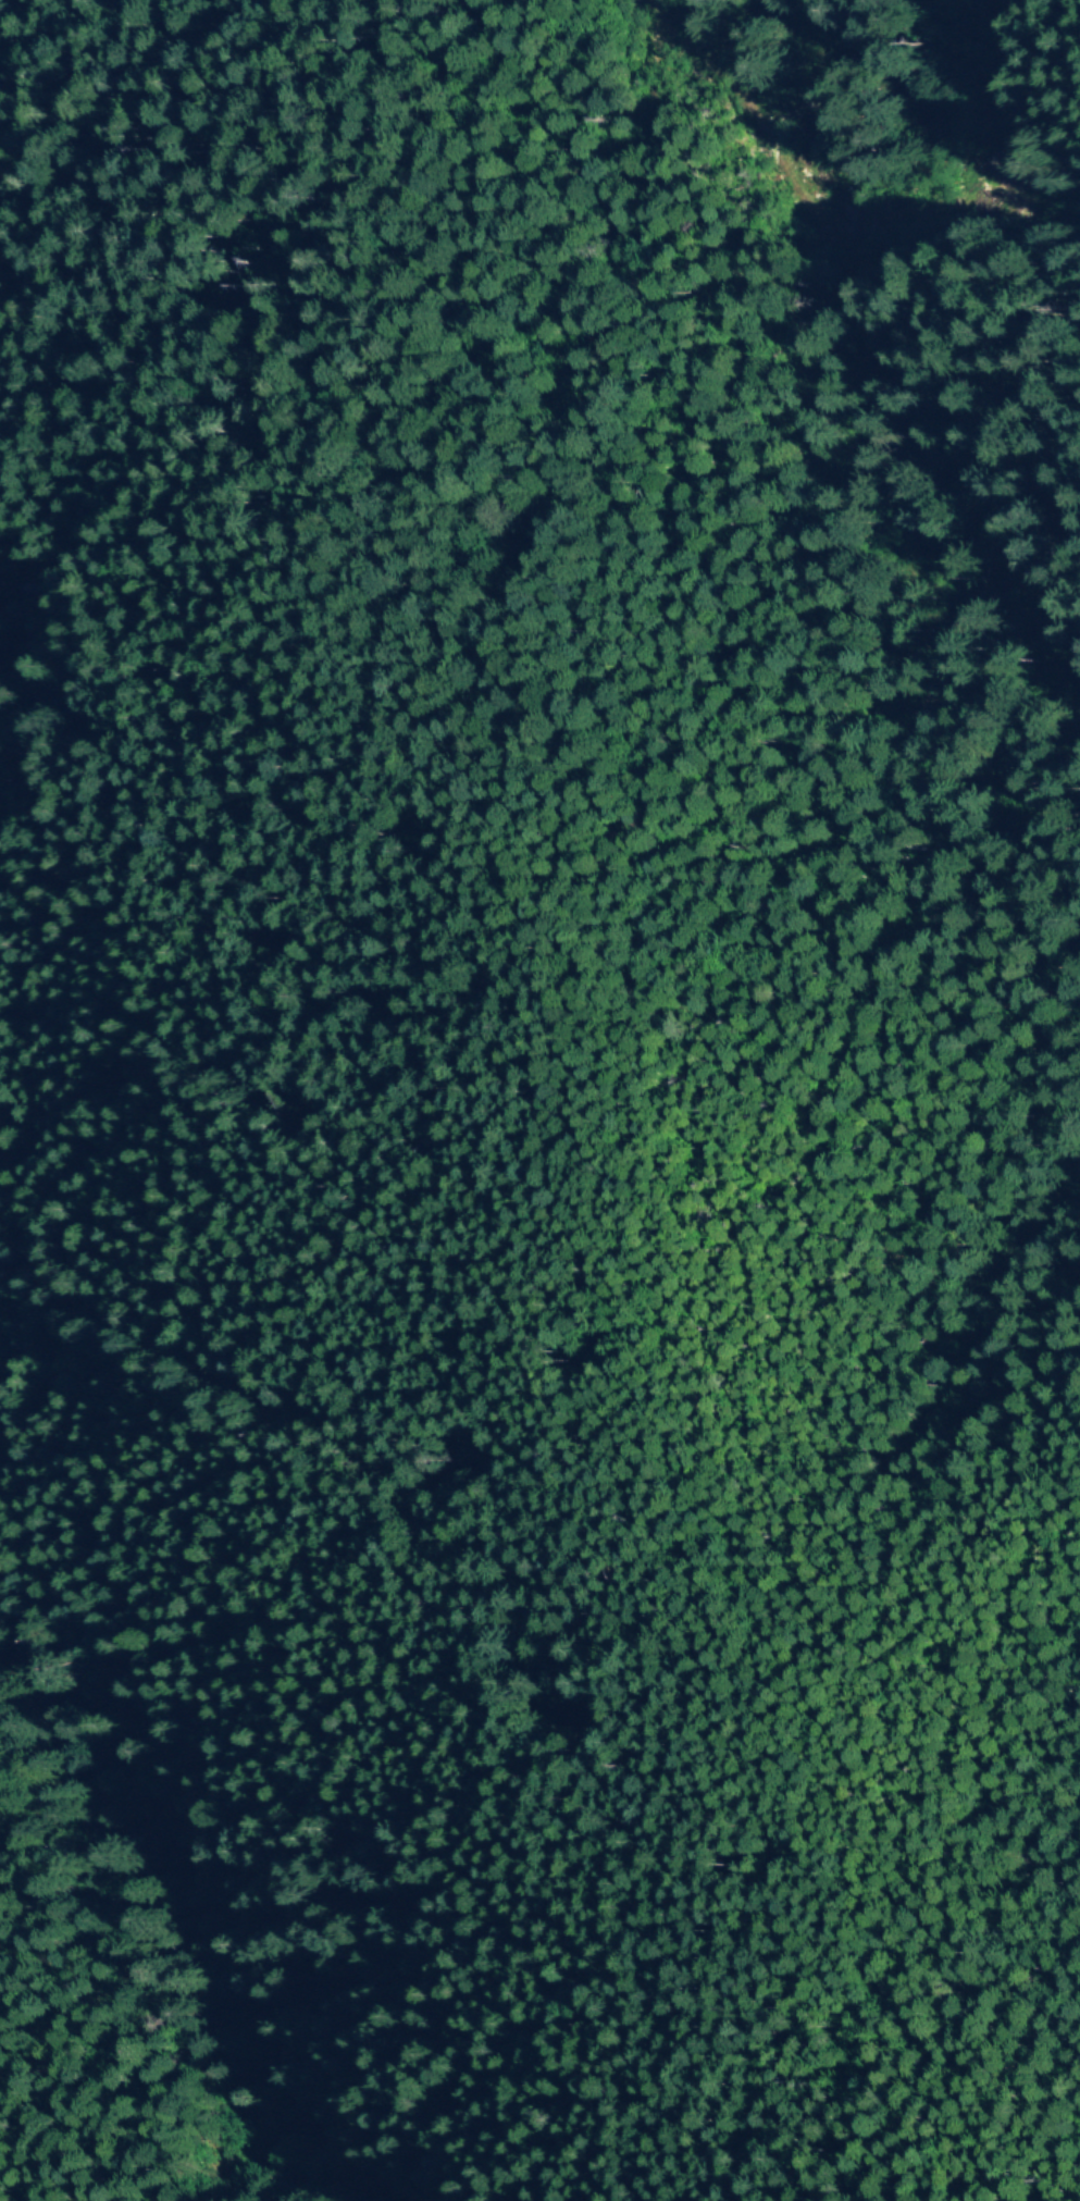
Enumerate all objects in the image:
road: (902, 248)

